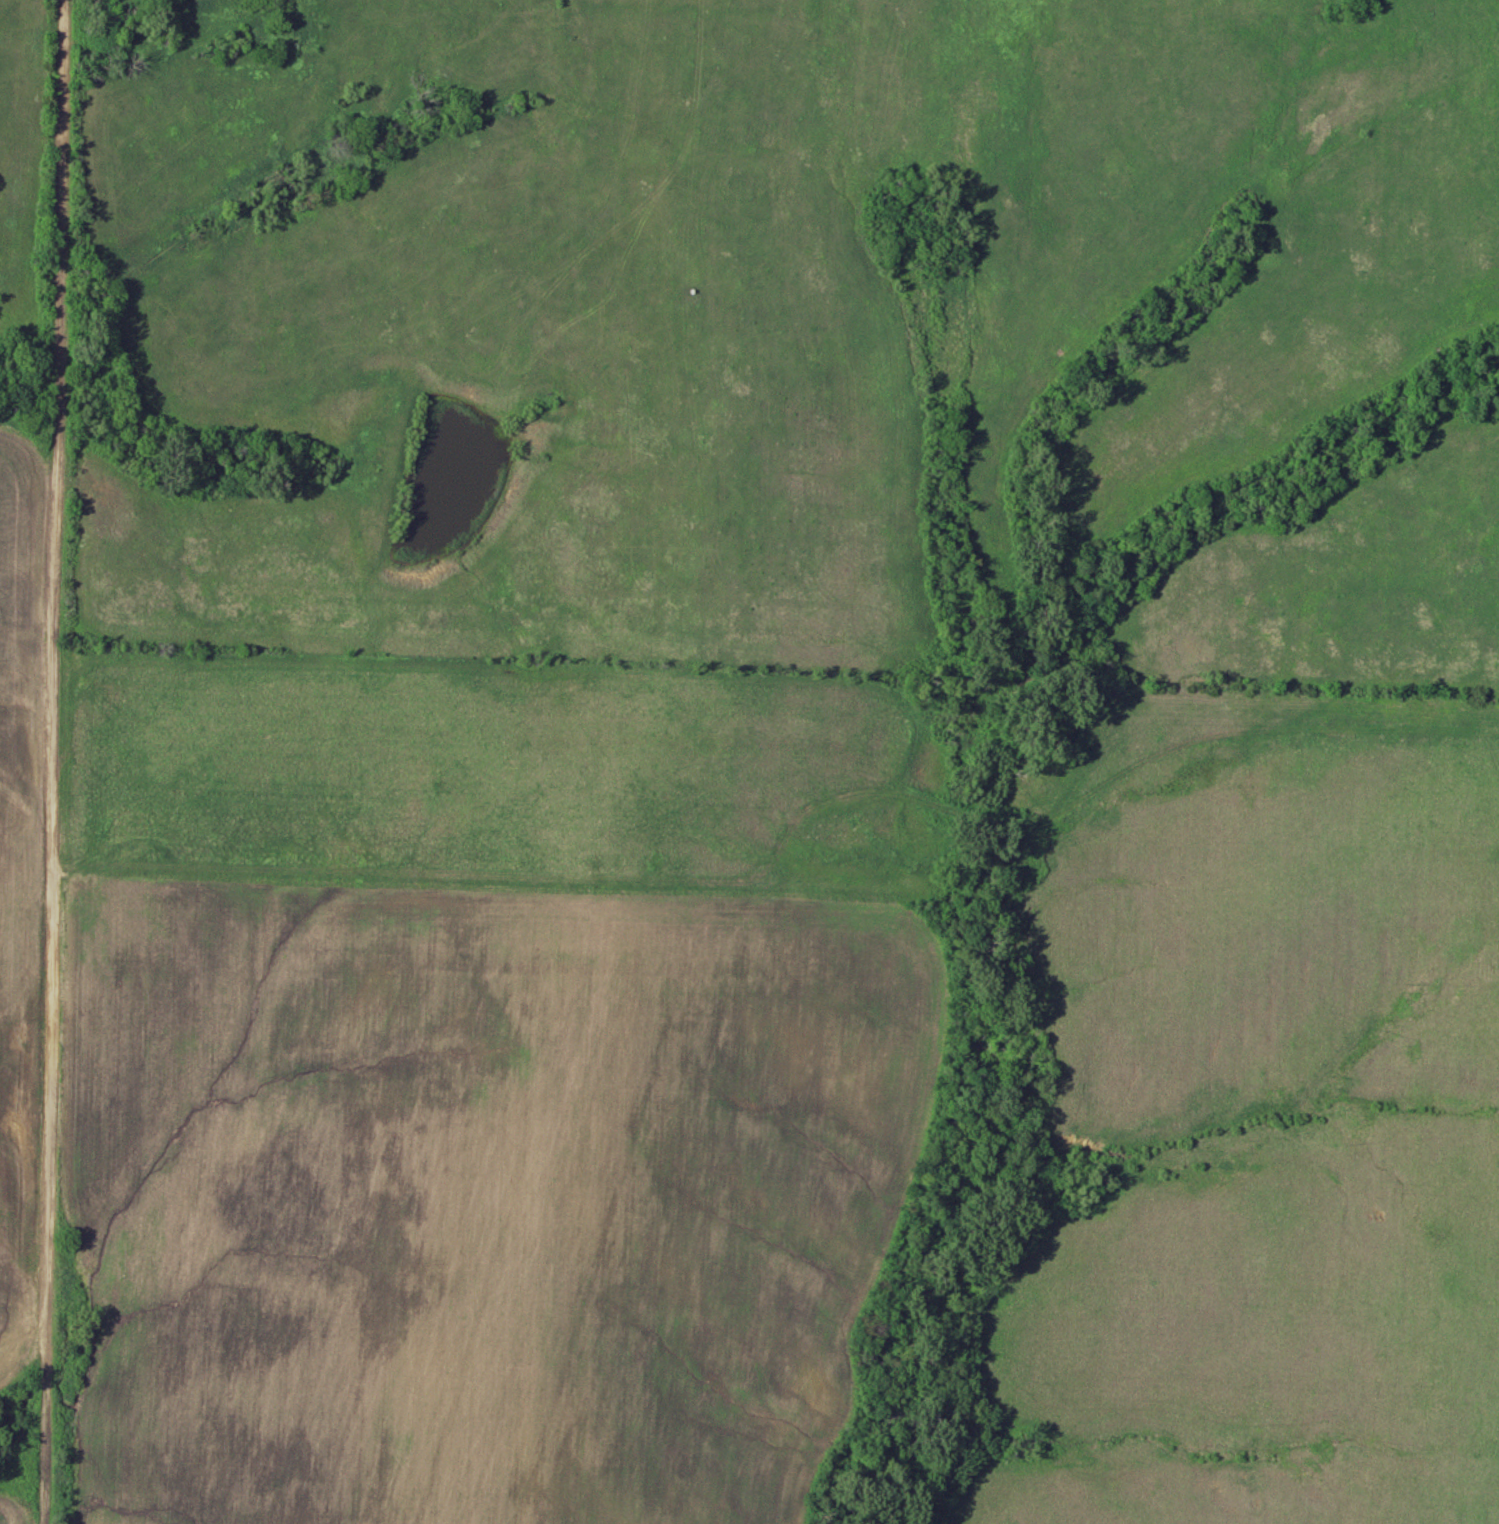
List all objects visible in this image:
road: (55, 762)

